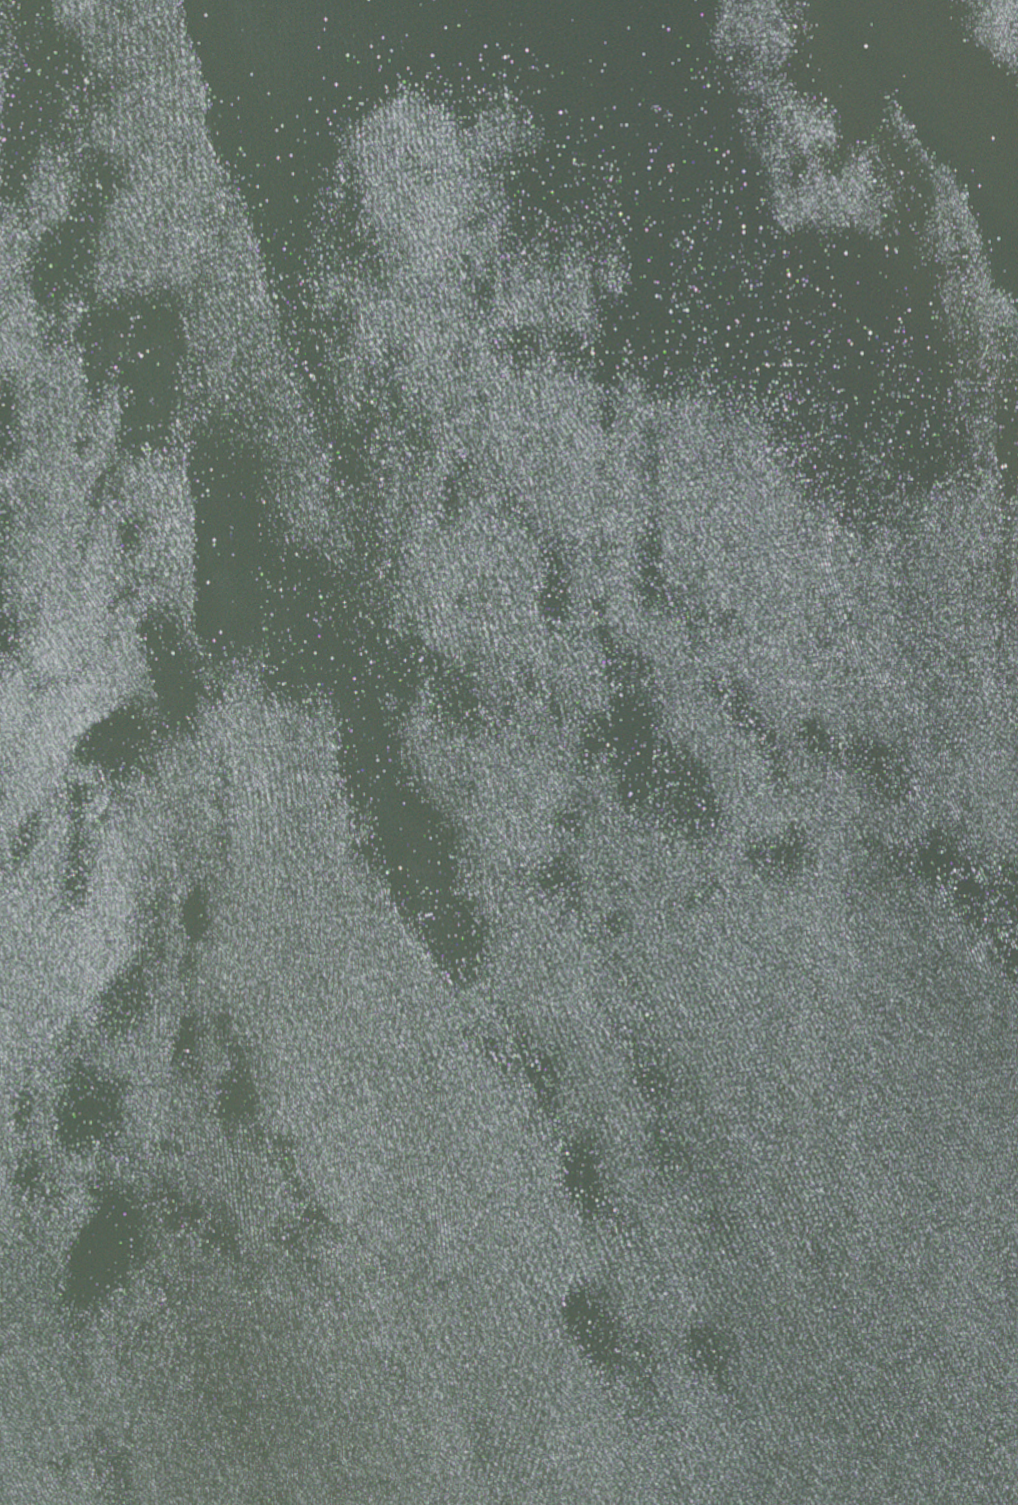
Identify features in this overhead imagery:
river: (999, 56)

